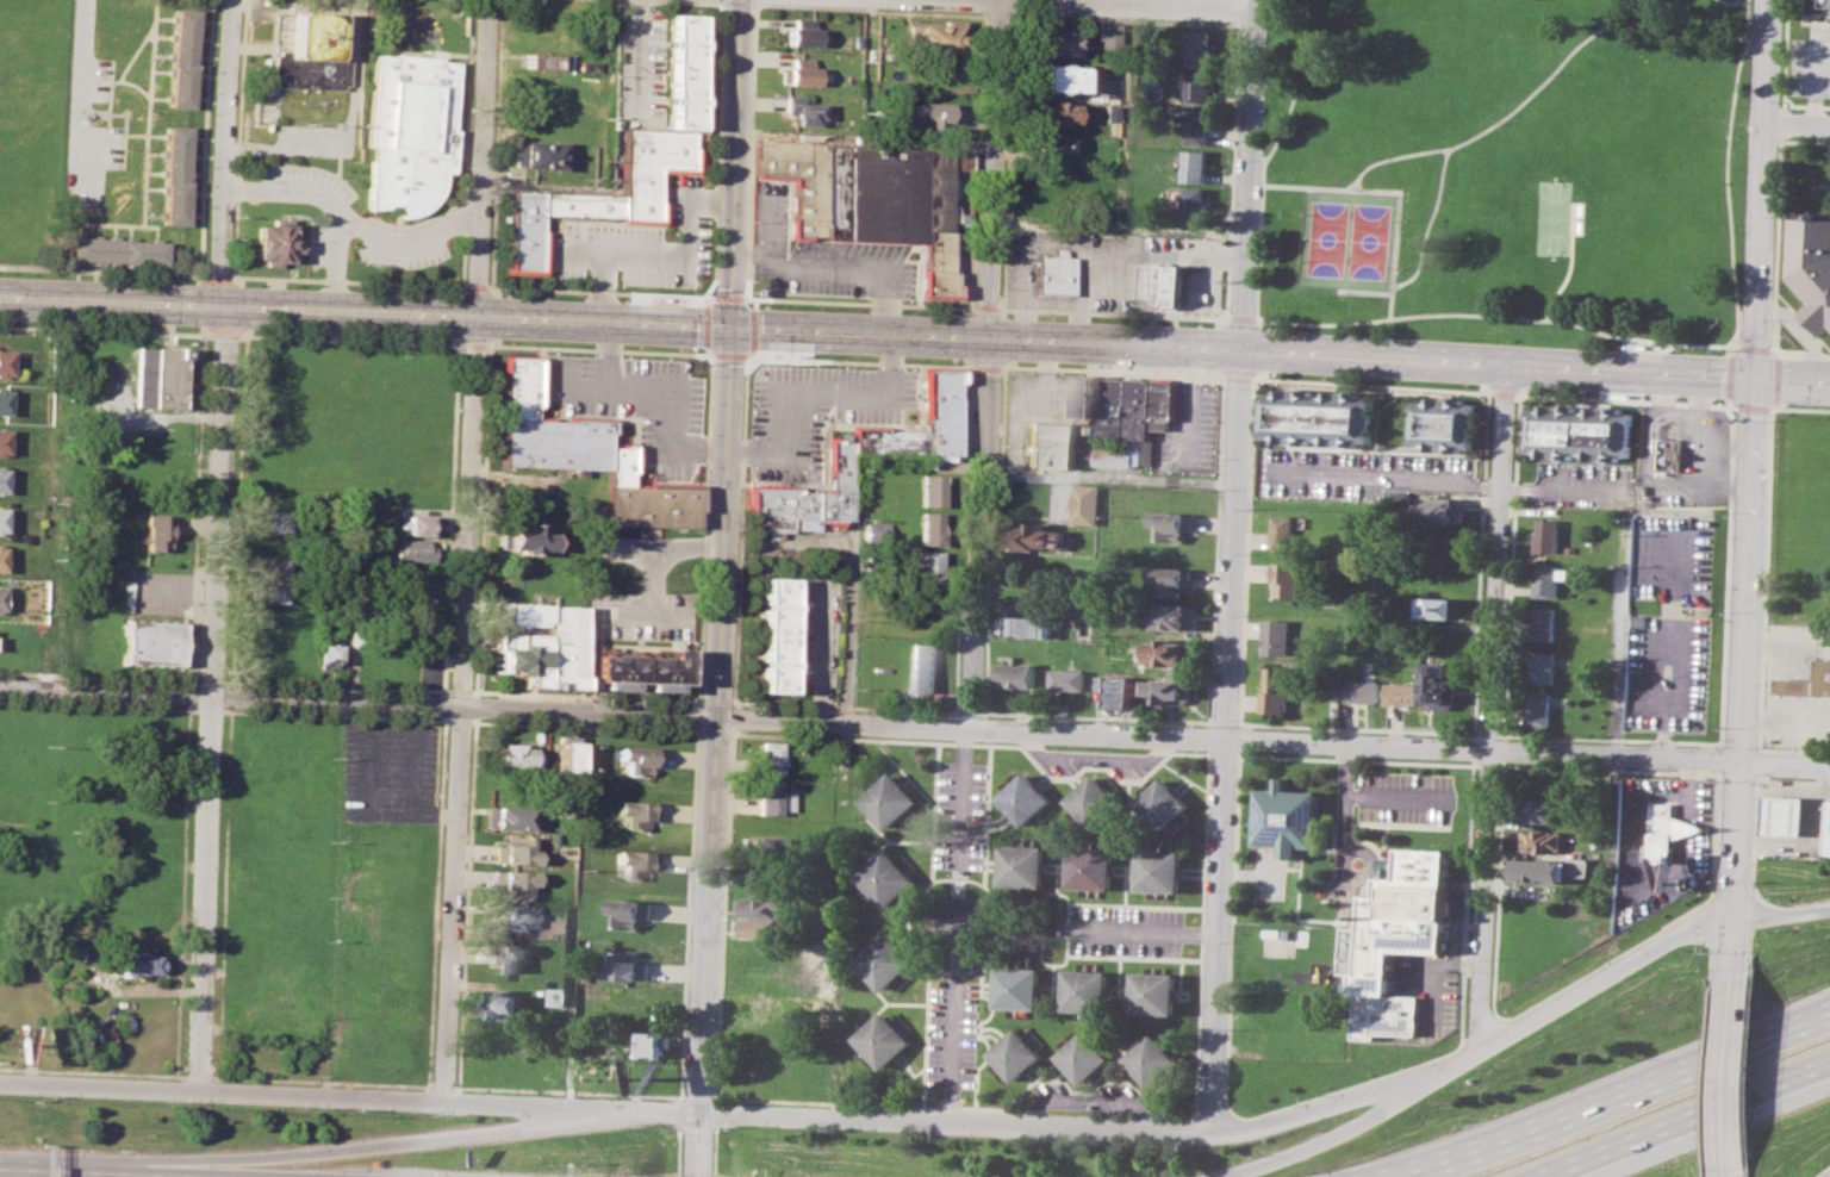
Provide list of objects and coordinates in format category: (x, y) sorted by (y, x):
road: (1126, 0)
road: (724, 1)
road: (755, 1)
road: (1162, 1)
road: (723, 2)
road: (740, 2)
road: (1738, 2)
building: (1828, 2)
road: (755, 5)
road: (1012, 5)
road: (982, 6)
road: (1239, 10)
road: (1618, 13)
road: (1010, 14)
road: (982, 15)
road: (996, 15)
road: (1128, 18)
road: (1239, 21)
road: (1753, 30)
building: (801, 32)
building: (1106, 36)
building: (935, 37)
road: (753, 39)
building: (1054, 43)
building: (1202, 48)
road: (135, 50)
road: (1787, 54)
building: (181, 56)
building: (309, 56)
building: (536, 60)
parking lot: (1812, 62)
parking lot: (640, 68)
building: (799, 71)
road: (1818, 74)
building: (1053, 76)
road: (120, 80)
building: (1200, 87)
road: (81, 88)
road: (1804, 105)
building: (799, 108)
building: (1052, 112)
building: (1110, 112)
building: (930, 113)
road: (1782, 122)
road: (1798, 122)
building: (1200, 126)
building: (409, 131)
parking lot: (88, 132)
road: (238, 137)
road: (205, 139)
road: (1805, 139)
building: (1050, 142)
road: (1444, 150)
road: (147, 151)
building: (533, 154)
road: (1265, 156)
building: (623, 157)
building: (1196, 166)
park: (1506, 169)
building: (175, 175)
road: (1121, 181)
parking lot: (304, 185)
road: (1763, 189)
building: (869, 197)
building: (1196, 203)
road: (83, 207)
road: (1398, 213)
park: (1557, 217)
road: (347, 224)
road: (766, 228)
road: (1184, 229)
road: (717, 241)
park: (1351, 241)
road: (1776, 242)
building: (270, 244)
parking lot: (637, 245)
parking lot: (398, 247)
building: (117, 249)
road: (1732, 251)
parking lot: (818, 255)
road: (461, 259)
road: (331, 264)
road: (1570, 264)
road: (840, 267)
building: (1810, 268)
road: (100, 270)
road: (969, 270)
building: (1053, 274)
road: (217, 278)
building: (1166, 285)
road: (475, 286)
road: (727, 293)
road: (752, 303)
road: (970, 307)
road: (983, 307)
road: (1112, 312)
road: (1241, 318)
road: (705, 319)
road: (1262, 319)
road: (105, 326)
road: (224, 331)
road: (751, 331)
traffic signals: (729, 334)
road: (347, 337)
flagpole: (1792, 337)
road: (878, 340)
road: (469, 343)
road: (1737, 343)
road: (1221, 345)
road: (1730, 347)
road: (1755, 347)
road: (597, 349)
road: (1262, 349)
road: (1800, 350)
road: (1779, 353)
road: (708, 354)
road: (727, 357)
building: (5, 361)
road: (861, 361)
road: (985, 362)
road: (745, 363)
road: (985, 365)
road: (1110, 370)
road: (1222, 372)
road: (1258, 374)
road: (1730, 374)
road: (1238, 376)
building: (157, 378)
road: (1778, 378)
road: (1793, 381)
road: (1490, 391)
road: (1504, 392)
building: (1090, 397)
road: (1625, 399)
road: (1729, 400)
building: (4, 401)
parking lot: (636, 401)
road: (1778, 404)
parking lot: (1035, 406)
road: (1754, 406)
road: (1800, 406)
building: (1114, 407)
parking lot: (815, 412)
road: (167, 416)
building: (1320, 417)
building: (1144, 422)
building: (1449, 424)
parking lot: (1193, 430)
building: (1586, 431)
building: (4, 441)
road: (1649, 441)
road: (1486, 443)
road: (1732, 443)
building: (1050, 444)
building: (578, 453)
building: (1676, 455)
road: (1708, 460)
building: (841, 473)
parking lot: (1363, 473)
building: (2, 478)
road: (1112, 478)
road: (1387, 478)
road: (1731, 479)
parking lot: (1586, 484)
road: (1566, 488)
building: (927, 490)
building: (1089, 503)
road: (195, 507)
building: (1444, 509)
building: (1, 521)
building: (270, 522)
building: (416, 524)
building: (1175, 524)
building: (926, 528)
building: (1286, 530)
building: (156, 531)
building: (874, 534)
building: (1550, 535)
building: (1038, 536)
road: (963, 537)
building: (521, 538)
road: (994, 538)
road: (214, 546)
road: (629, 548)
building: (413, 549)
road: (655, 549)
road: (465, 550)
road: (1218, 552)
road: (1247, 553)
building: (0, 556)
parking lot: (1673, 558)
building: (923, 566)
building: (270, 568)
road: (1237, 571)
building: (1174, 579)
building: (1290, 579)
building: (1551, 579)
road: (1764, 580)
road: (721, 587)
building: (0, 592)
building: (269, 593)
building: (410, 598)
building: (925, 606)
building: (1440, 608)
road: (639, 612)
road: (232, 615)
parking lot: (637, 615)
building: (1178, 616)
building: (1548, 623)
building: (1029, 625)
road: (845, 635)
road: (1623, 635)
building: (776, 636)
building: (1280, 636)
road: (698, 640)
road: (733, 641)
building: (154, 642)
building: (539, 642)
road: (1664, 650)
building: (1174, 652)
road: (1747, 652)
building: (328, 655)
building: (922, 666)
building: (1545, 666)
building: (639, 667)
parking lot: (1669, 672)
road: (98, 674)
building: (1019, 674)
road: (208, 679)
building: (1070, 679)
road: (1682, 679)
road: (226, 680)
building: (1807, 681)
building: (1440, 685)
building: (1278, 687)
road: (457, 690)
building: (1121, 690)
building: (1174, 690)
building: (1365, 690)
road: (189, 693)
building: (1403, 693)
road: (712, 699)
road: (696, 700)
road: (730, 700)
street lamp: (66, 702)
road: (734, 703)
road: (99, 705)
street lamp: (181, 705)
road: (486, 708)
building: (1543, 708)
road: (208, 709)
street lamp: (284, 710)
road: (971, 710)
road: (1494, 710)
road: (332, 714)
street lamp: (404, 715)
road: (696, 715)
road: (1097, 715)
road: (732, 717)
road: (455, 720)
street lamp: (505, 720)
road: (1225, 721)
road: (581, 724)
road: (1358, 727)
road: (711, 731)
road: (1209, 737)
road: (1241, 740)
road: (986, 742)
road: (1358, 743)
road: (1479, 748)
road: (1208, 751)
road: (1224, 753)
road: (1240, 753)
building: (511, 754)
building: (565, 758)
building: (767, 758)
building: (637, 759)
road: (1357, 759)
road: (1759, 762)
street lamp: (466, 764)
road: (1786, 764)
parking lot: (391, 771)
building: (1545, 783)
building: (790, 786)
street lamp: (193, 789)
road: (375, 793)
road: (965, 795)
building: (765, 797)
road: (1395, 797)
building: (1027, 798)
building: (894, 799)
building: (1096, 799)
building: (1163, 804)
building: (1543, 810)
road: (936, 812)
building: (635, 814)
parking lot: (964, 815)
road: (989, 815)
building: (1789, 815)
gas station: (1789, 815)
building: (504, 817)
building: (1289, 817)
building: (1667, 830)
road: (1755, 835)
building: (1544, 841)
parking lot: (1662, 842)
building: (759, 845)
road: (1342, 846)
building: (1829, 847)
building: (511, 849)
building: (633, 862)
building: (1026, 865)
building: (1583, 866)
building: (1094, 867)
building: (1163, 870)
building: (1542, 870)
building: (890, 878)
building: (510, 880)
street lamp: (460, 891)
building: (762, 905)
road: (913, 908)
street lamp: (188, 910)
road: (574, 910)
building: (631, 910)
road: (1756, 911)
road: (686, 913)
road: (723, 915)
road: (1782, 915)
building: (504, 916)
building: (1407, 920)
road: (838, 921)
building: (762, 927)
parking lot: (1127, 929)
road: (1149, 934)
road: (1754, 947)
road: (1736, 951)
building: (508, 955)
building: (888, 960)
building: (136, 961)
building: (629, 965)
road: (178, 974)
building: (1020, 988)
building: (1089, 989)
street lamp: (456, 991)
building: (1157, 992)
building: (559, 995)
building: (499, 1003)
building: (764, 1005)
street lamp: (185, 1032)
parking lot: (954, 1032)
road: (928, 1035)
building: (885, 1039)
building: (653, 1044)
road: (956, 1051)
building: (1017, 1053)
building: (1087, 1055)
building: (1154, 1058)
road: (1749, 1067)
road: (1730, 1077)
street lamp: (454, 1083)
road: (1196, 1086)
street lamp: (50, 1096)
road: (1311, 1097)
road: (1610, 1098)
street lamp: (174, 1102)
road: (821, 1102)
street lamp: (294, 1107)
road: (679, 1113)
road: (717, 1113)
street lamp: (492, 1115)
road: (1682, 1116)
road: (892, 1123)
road: (1315, 1141)
road: (342, 1147)
road: (714, 1150)
road: (678, 1151)
road: (1745, 1172)
road: (1828, 1175)

